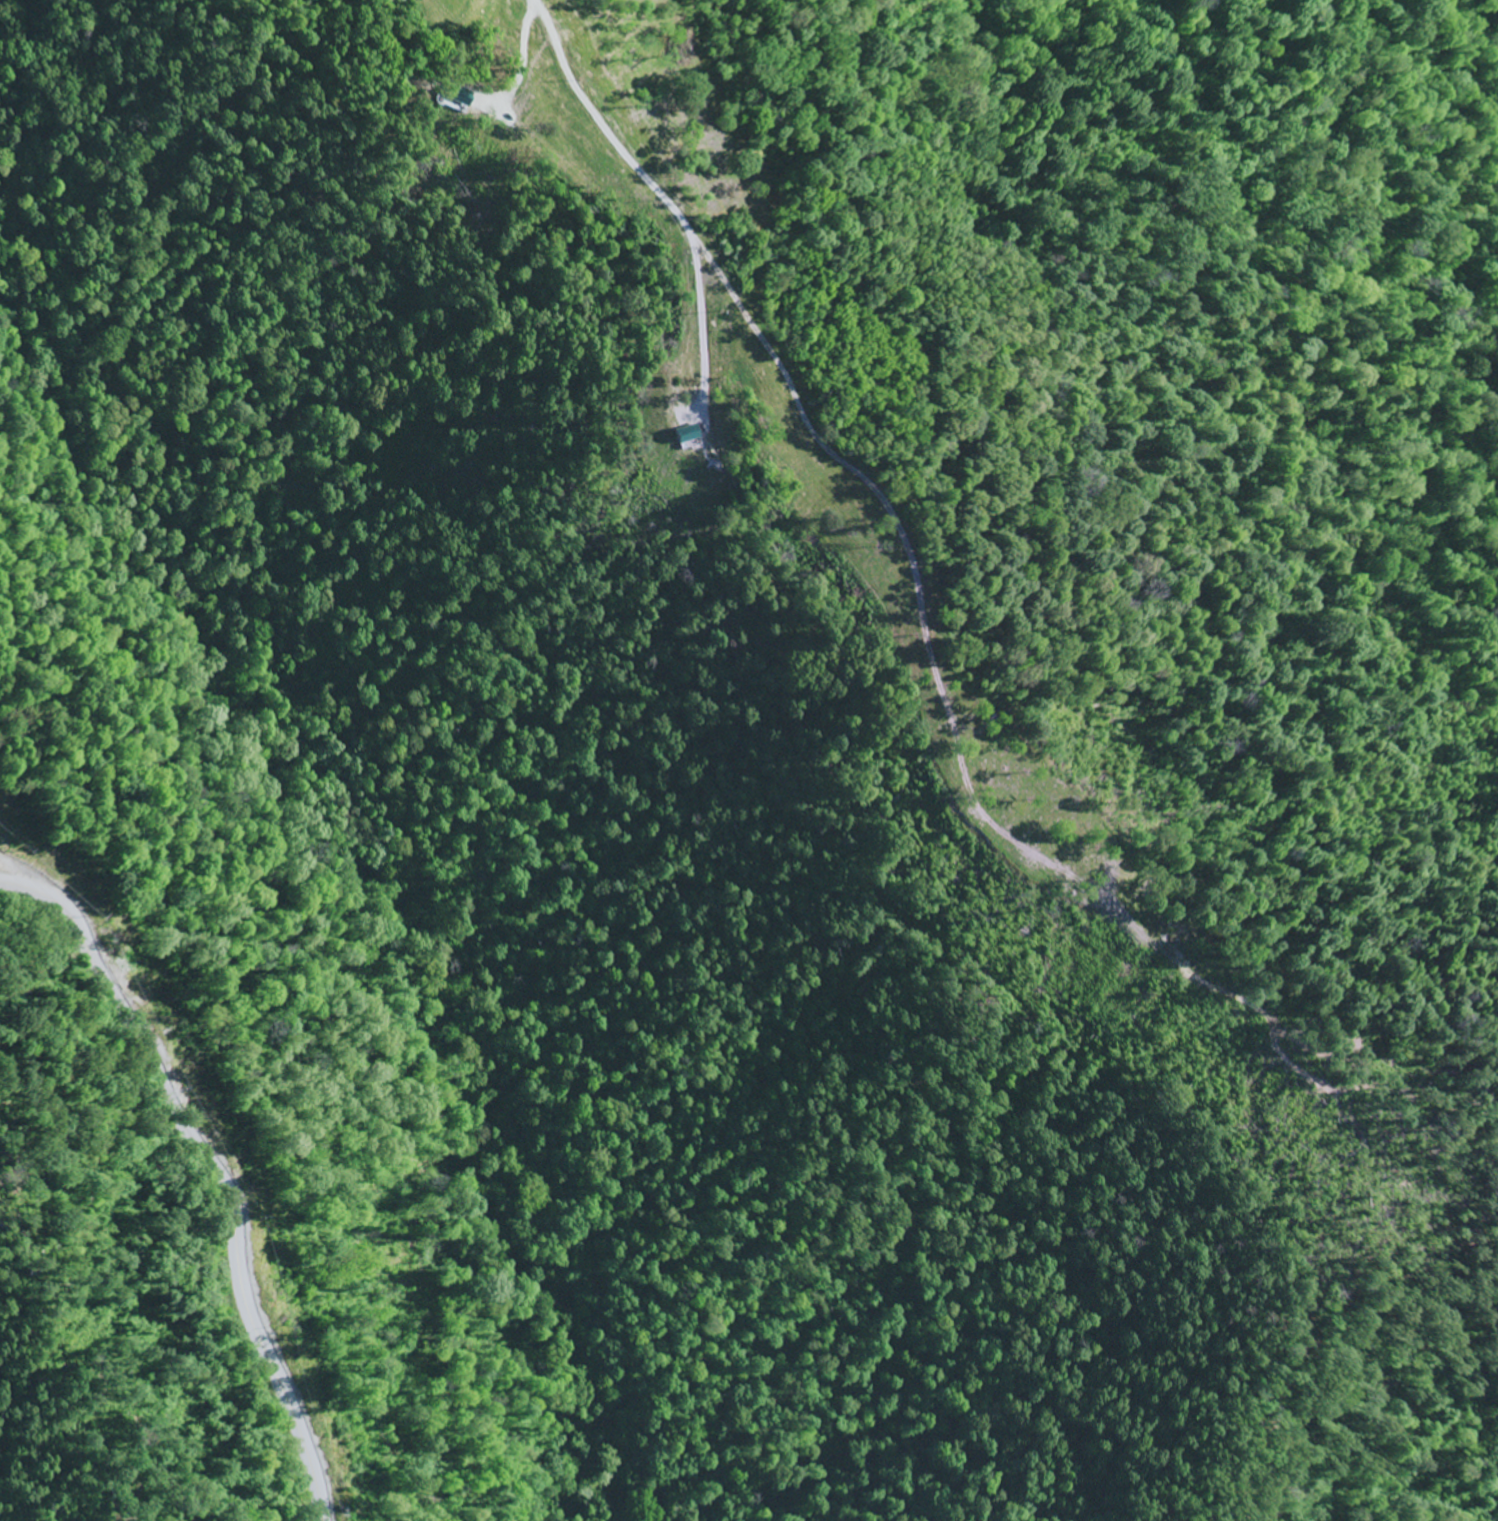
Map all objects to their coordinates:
building: (684, 436)
road: (212, 1168)

